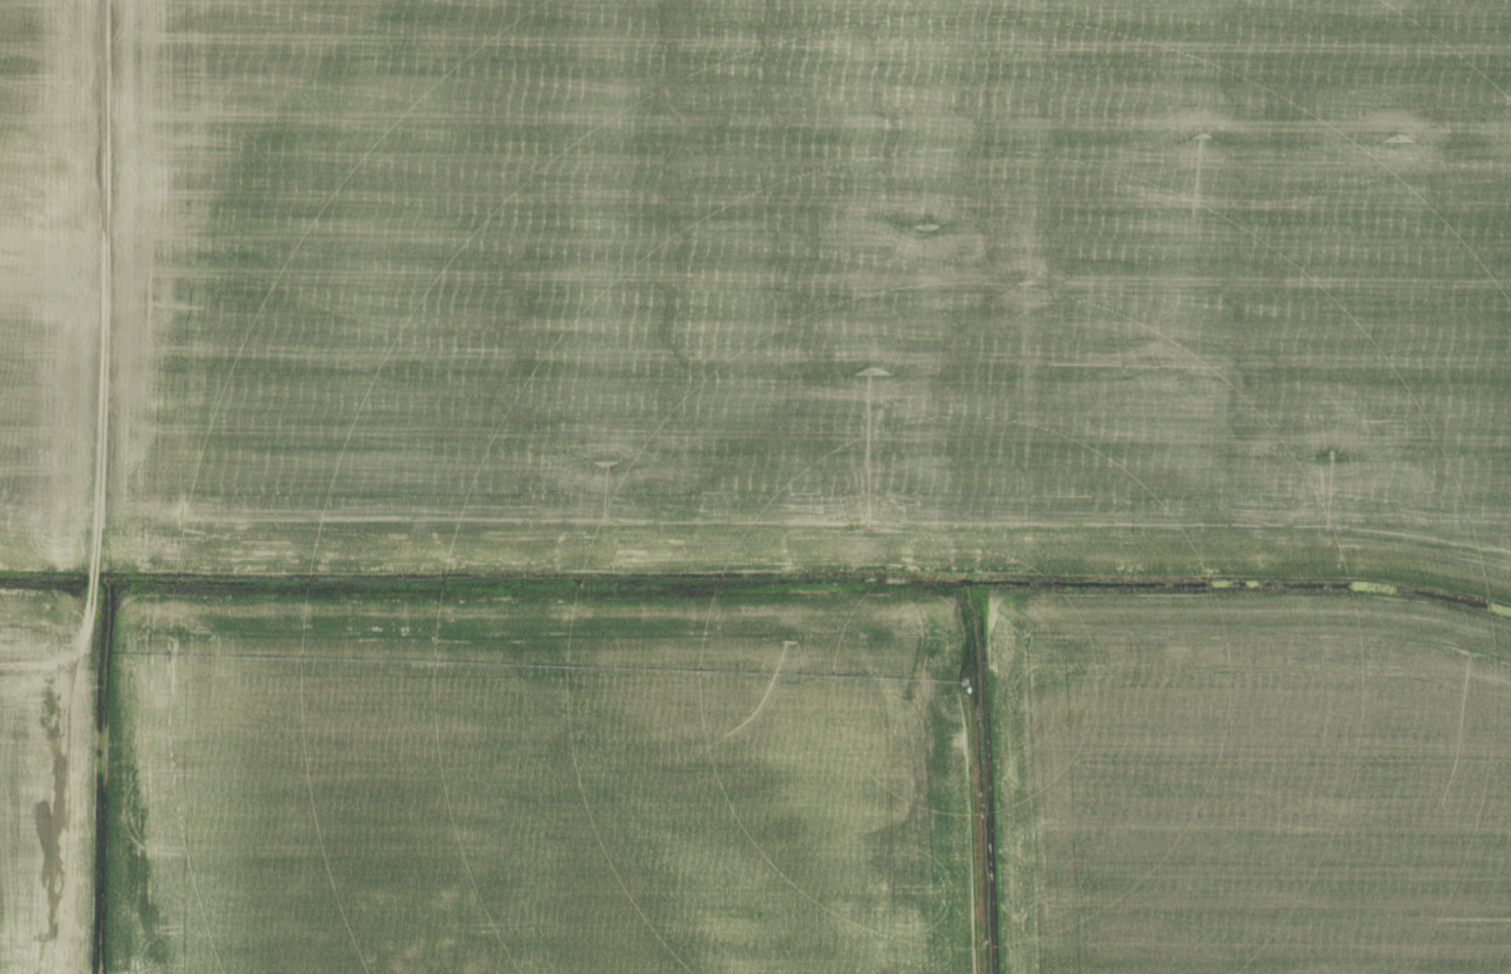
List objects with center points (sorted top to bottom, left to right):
road: (104, 339)
road: (29, 664)

